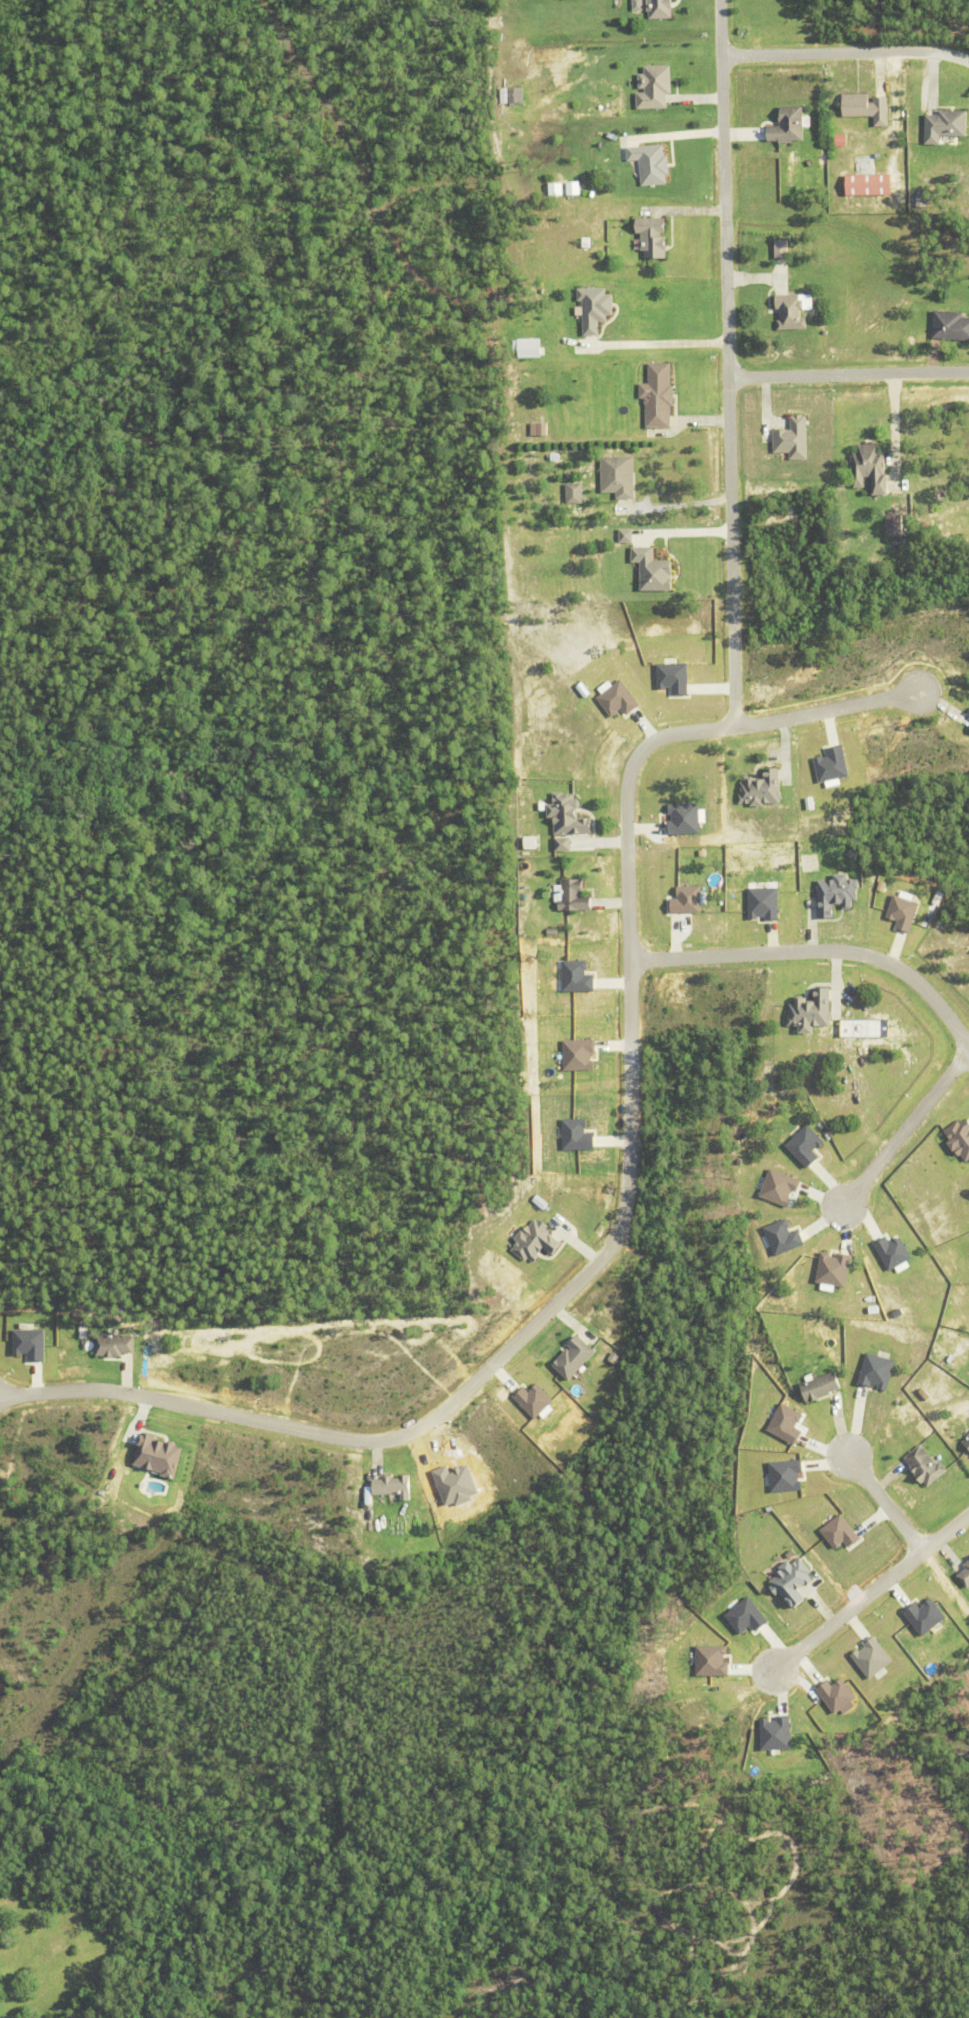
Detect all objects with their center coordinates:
building: (638, 5)
building: (659, 8)
road: (849, 52)
building: (653, 87)
building: (512, 94)
building: (865, 108)
building: (946, 124)
building: (788, 126)
building: (843, 139)
building: (649, 163)
building: (871, 183)
building: (576, 187)
building: (652, 241)
building: (782, 248)
building: (595, 307)
building: (789, 312)
building: (950, 326)
road: (660, 344)
building: (531, 347)
road: (733, 365)
road: (851, 380)
building: (660, 395)
building: (540, 428)
road: (888, 429)
building: (792, 439)
building: (554, 458)
building: (618, 477)
building: (574, 494)
building: (627, 535)
building: (655, 569)
building: (833, 764)
building: (762, 788)
building: (569, 814)
building: (685, 818)
building: (532, 841)
building: (564, 843)
building: (837, 894)
building: (572, 896)
building: (688, 900)
building: (765, 902)
building: (905, 912)
road: (820, 955)
building: (579, 976)
building: (812, 1011)
building: (581, 1054)
road: (903, 1130)
building: (579, 1135)
building: (960, 1139)
building: (806, 1145)
building: (781, 1187)
road: (627, 1198)
building: (784, 1237)
building: (538, 1241)
building: (894, 1252)
building: (835, 1269)
building: (31, 1343)
building: (114, 1344)
building: (576, 1357)
building: (877, 1370)
building: (822, 1385)
building: (536, 1399)
building: (787, 1422)
building: (967, 1441)
building: (159, 1453)
building: (926, 1464)
building: (787, 1474)
building: (394, 1485)
road: (885, 1502)
building: (841, 1531)
building: (964, 1574)
building: (793, 1580)
road: (868, 1595)
building: (747, 1615)
building: (926, 1615)
building: (873, 1657)
building: (837, 1694)
building: (777, 1732)

